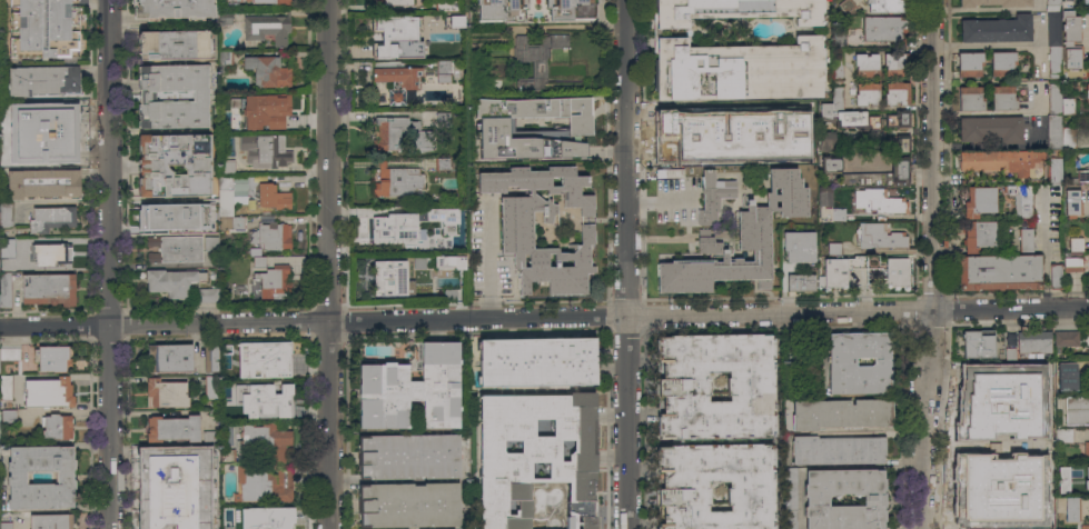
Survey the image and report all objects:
building: (1087, 0)
building: (230, 1)
building: (273, 2)
building: (395, 2)
building: (994, 2)
building: (445, 4)
building: (1052, 4)
building: (847, 6)
building: (885, 6)
building: (171, 9)
building: (535, 10)
building: (734, 10)
building: (225, 17)
building: (426, 17)
building: (42, 28)
building: (267, 28)
road: (572, 28)
building: (882, 28)
building: (1052, 28)
building: (1070, 28)
building: (997, 29)
building: (389, 34)
building: (838, 38)
building: (558, 41)
building: (174, 43)
road: (982, 47)
building: (451, 48)
building: (529, 54)
building: (1069, 54)
building: (1053, 61)
building: (836, 63)
building: (969, 63)
building: (1001, 63)
building: (865, 64)
building: (893, 64)
building: (736, 70)
building: (267, 71)
building: (443, 71)
building: (43, 80)
building: (402, 81)
building: (1087, 92)
building: (867, 94)
building: (895, 94)
building: (147, 97)
building: (969, 98)
building: (1002, 98)
building: (1061, 101)
building: (258, 110)
building: (52, 111)
road: (989, 112)
building: (844, 113)
building: (443, 119)
building: (897, 120)
building: (11, 123)
building: (493, 124)
building: (992, 128)
building: (1059, 133)
building: (388, 136)
building: (825, 140)
building: (900, 143)
building: (716, 149)
building: (17, 150)
building: (264, 150)
building: (56, 151)
building: (1000, 161)
building: (442, 163)
building: (830, 163)
building: (152, 164)
building: (226, 166)
building: (1053, 170)
building: (667, 172)
building: (879, 176)
building: (1081, 176)
building: (397, 180)
building: (42, 182)
building: (230, 192)
building: (270, 194)
building: (824, 196)
road: (656, 198)
building: (713, 198)
building: (1020, 199)
building: (878, 201)
building: (979, 201)
building: (1072, 202)
road: (61, 203)
building: (6, 213)
building: (172, 216)
building: (444, 216)
building: (51, 218)
building: (230, 222)
building: (395, 224)
building: (516, 233)
building: (271, 236)
building: (979, 236)
building: (880, 237)
road: (65, 239)
building: (1024, 240)
building: (740, 241)
building: (8, 243)
building: (211, 243)
building: (1076, 244)
building: (798, 247)
building: (176, 249)
building: (250, 252)
building: (51, 253)
road: (488, 258)
building: (451, 261)
road: (111, 263)
road: (626, 263)
building: (1072, 263)
road: (326, 264)
road: (935, 264)
building: (891, 270)
building: (998, 272)
building: (825, 273)
building: (1055, 276)
building: (1088, 277)
building: (271, 278)
building: (388, 278)
building: (171, 281)
building: (6, 288)
building: (48, 289)
building: (206, 295)
road: (544, 318)
building: (1068, 338)
building: (1032, 342)
building: (977, 343)
building: (1088, 349)
building: (800, 355)
building: (10, 357)
building: (169, 357)
building: (209, 357)
building: (52, 358)
building: (264, 359)
building: (536, 361)
building: (841, 363)
building: (1038, 376)
building: (1066, 376)
building: (988, 378)
building: (6, 387)
building: (211, 387)
building: (683, 387)
building: (412, 390)
building: (47, 392)
building: (166, 392)
building: (264, 400)
building: (1076, 410)
building: (983, 411)
building: (1033, 411)
building: (841, 413)
building: (8, 417)
building: (57, 427)
building: (172, 428)
building: (208, 437)
building: (265, 440)
building: (967, 445)
building: (836, 450)
building: (1086, 450)
building: (532, 452)
building: (1046, 452)
building: (227, 455)
building: (409, 457)
building: (178, 460)
building: (17, 477)
building: (967, 479)
building: (1061, 479)
building: (1086, 479)
building: (263, 485)
building: (751, 485)
building: (1047, 485)
building: (179, 493)
building: (790, 498)
building: (818, 501)
building: (1030, 503)
building: (409, 505)
building: (957, 505)
building: (981, 505)
building: (1006, 505)
building: (1067, 507)
building: (230, 511)
building: (269, 519)
building: (50, 520)
building: (1046, 520)
building: (568, 521)
building: (4, 522)
road: (23, 522)
building: (174, 522)
building: (588, 522)
building: (957, 523)
building: (982, 523)
building: (1006, 523)
building: (211, 526)
building: (1083, 526)

